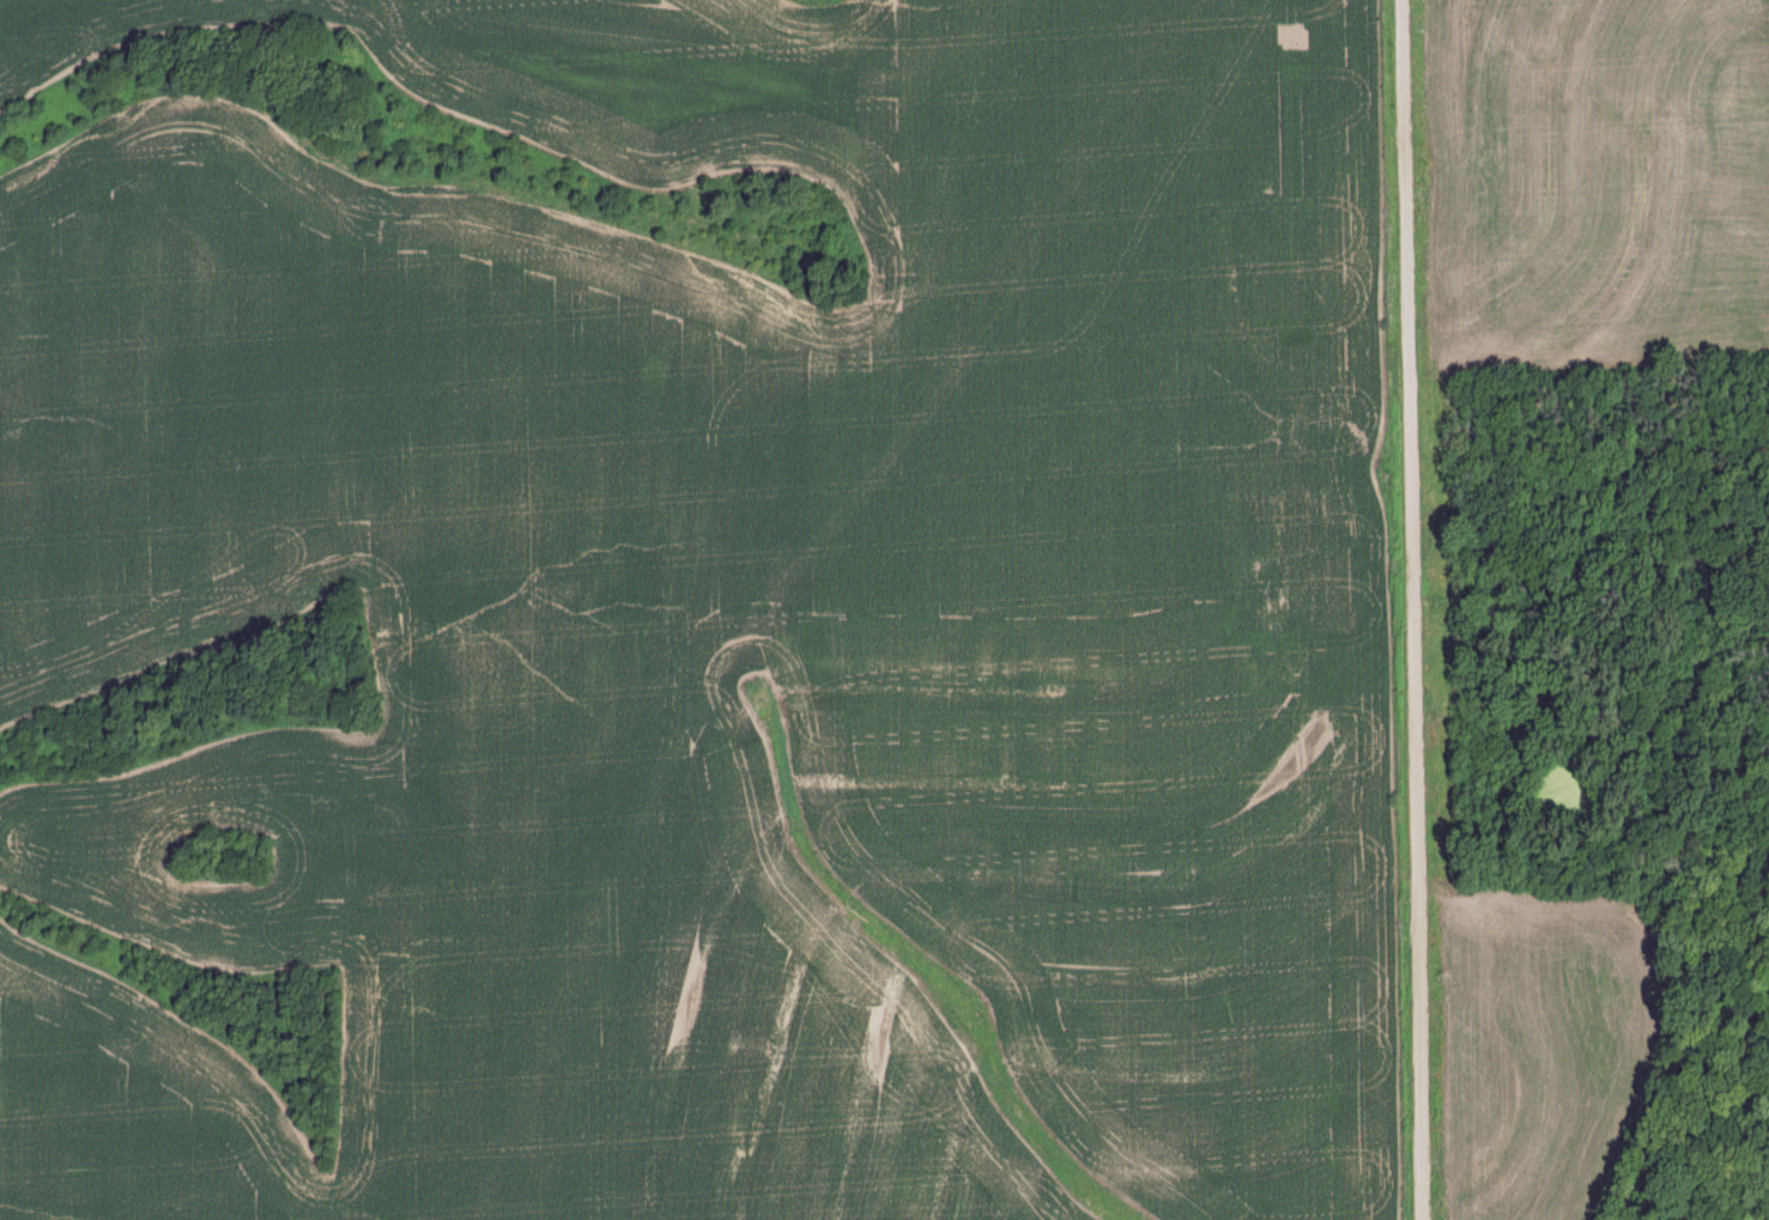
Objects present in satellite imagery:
road: (1408, 609)

